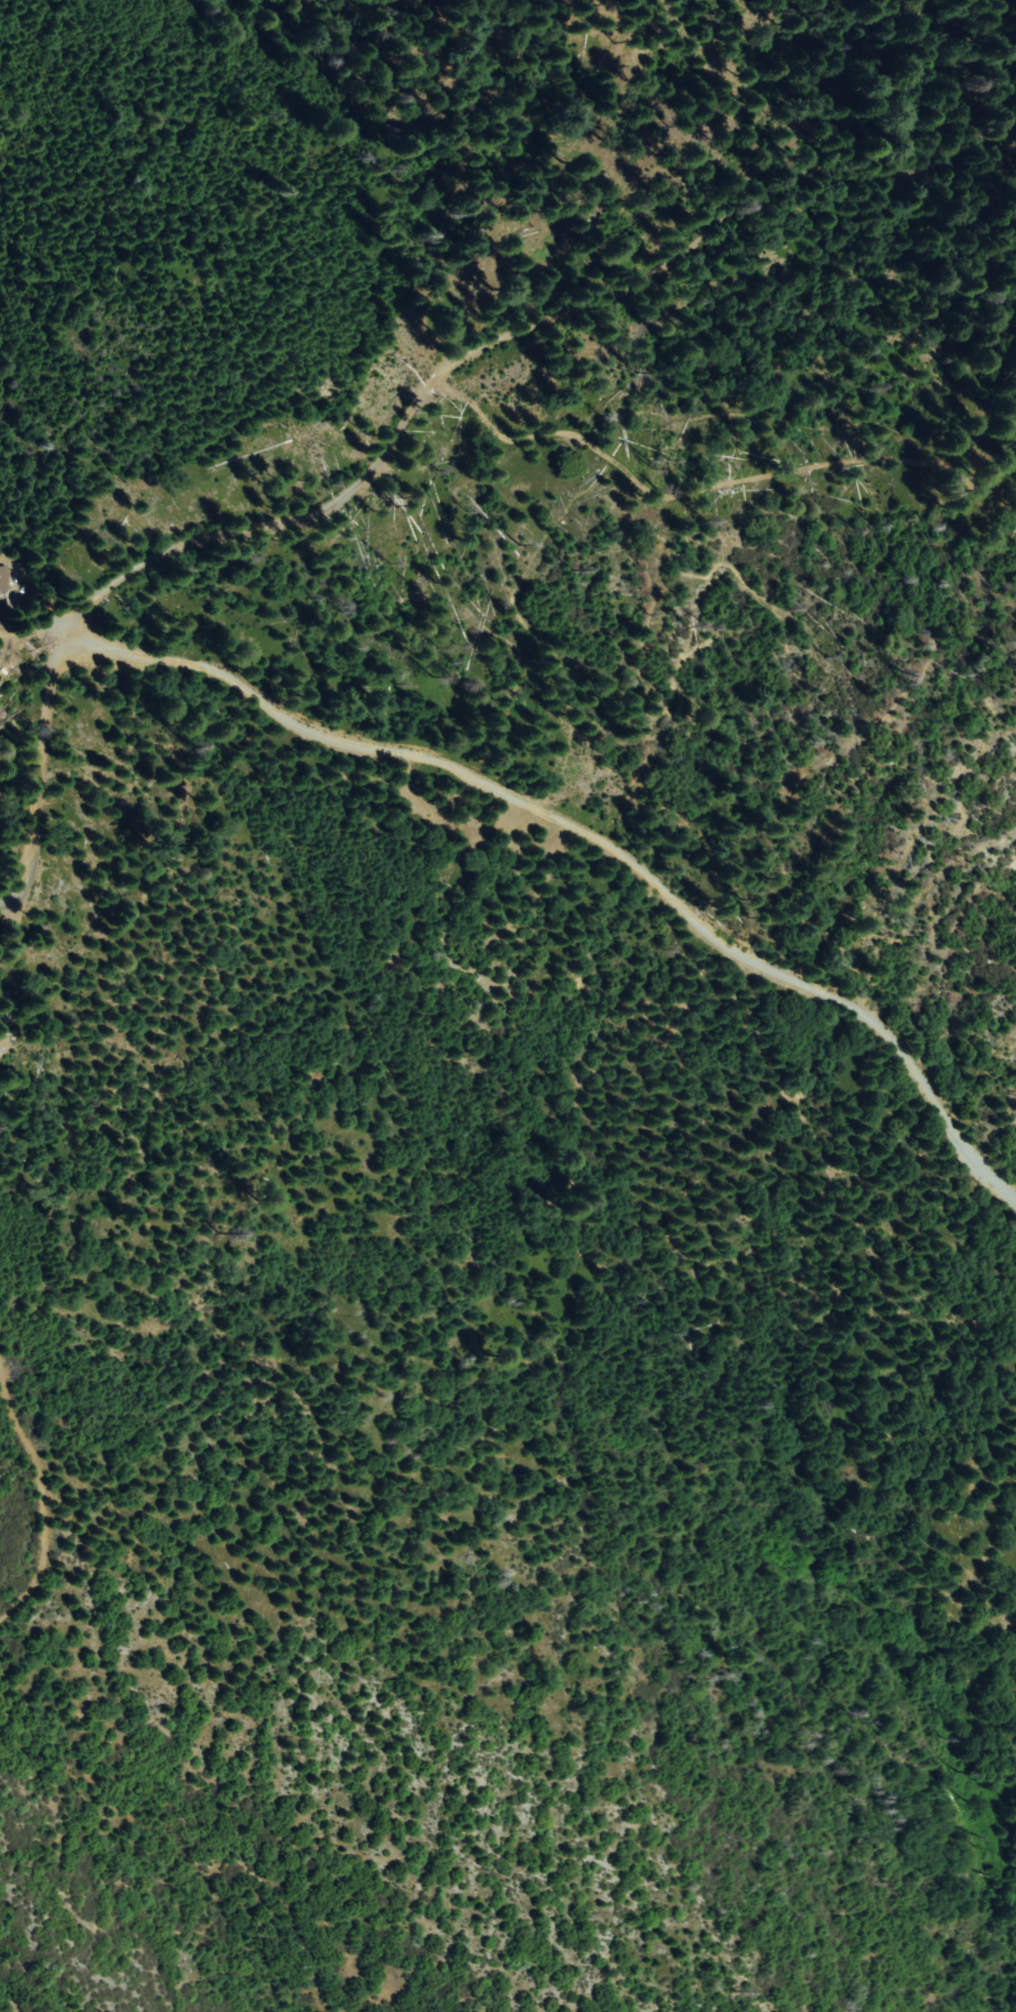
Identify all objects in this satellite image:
building: (4, 580)
road: (56, 700)
road: (13, 860)
road: (14, 880)
road: (3, 1373)
road: (42, 1486)

